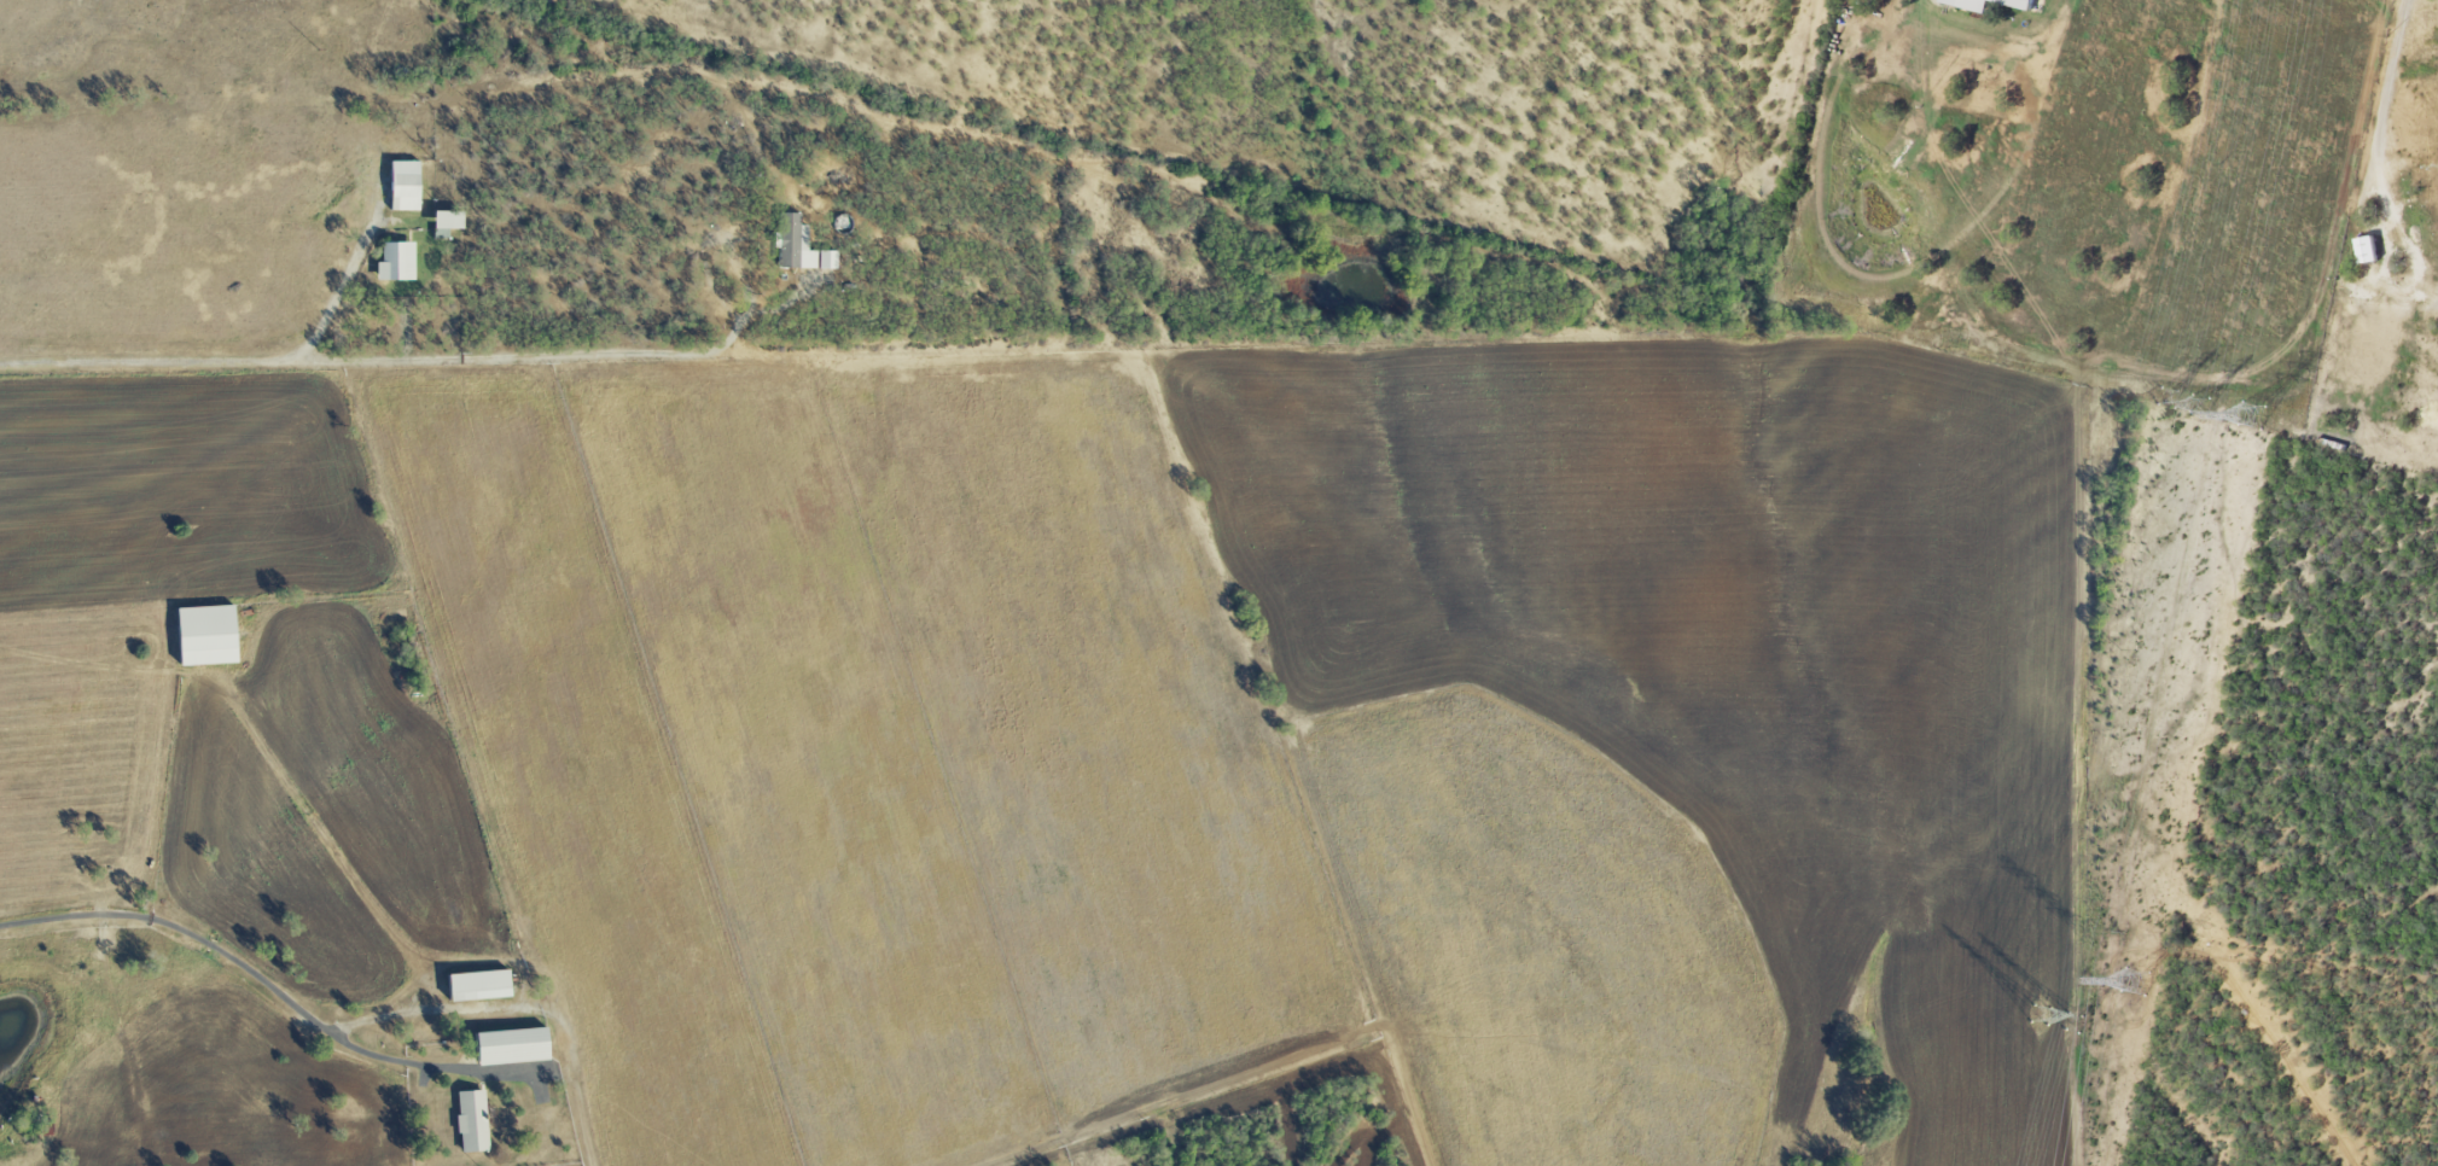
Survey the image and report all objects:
building: (1973, 8)
road: (2376, 147)
building: (403, 187)
building: (446, 223)
building: (793, 245)
building: (2368, 251)
building: (826, 261)
building: (395, 263)
road: (338, 292)
road: (418, 360)
power tower: (2166, 398)
power tower: (2204, 406)
power tower: (2253, 416)
building: (204, 636)
road: (179, 928)
power tower: (2137, 983)
building: (477, 986)
power tower: (2040, 1018)
power tower: (2075, 1025)
road: (568, 1047)
building: (511, 1048)
building: (471, 1123)

